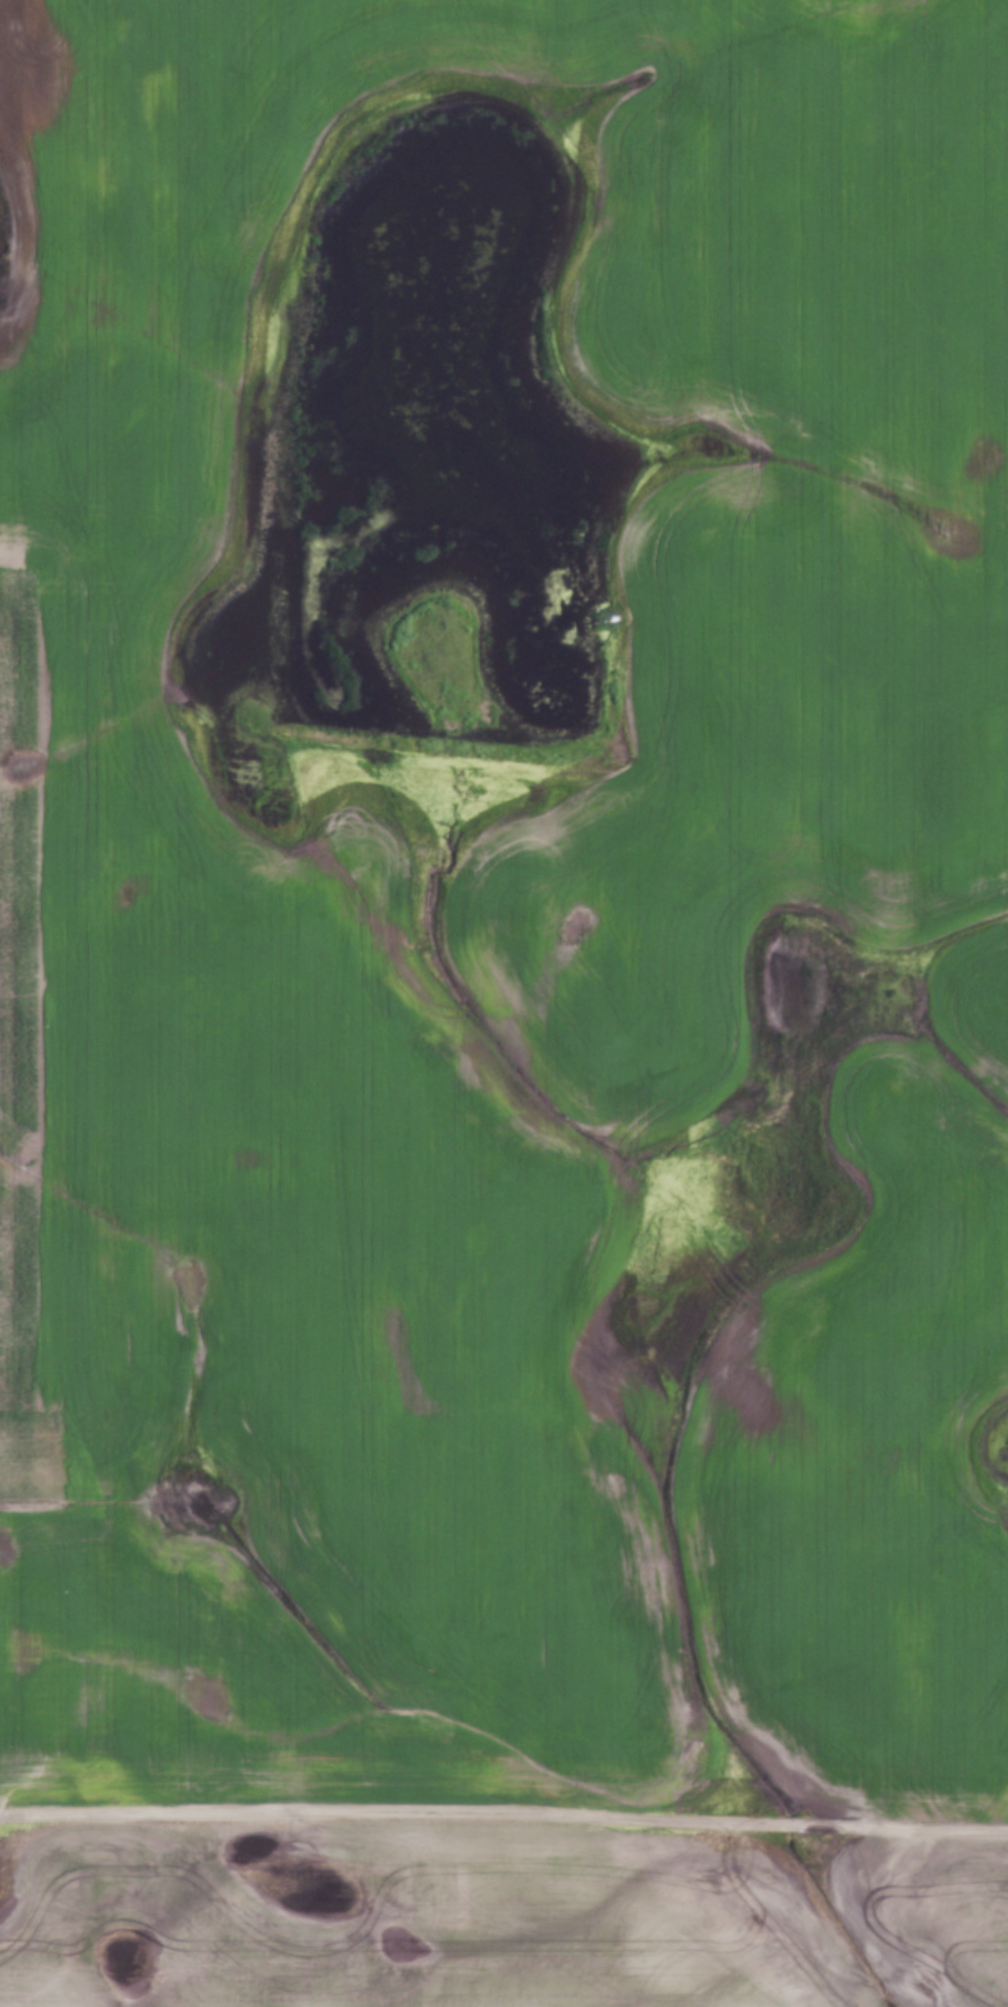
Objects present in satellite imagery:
road: (504, 1817)

